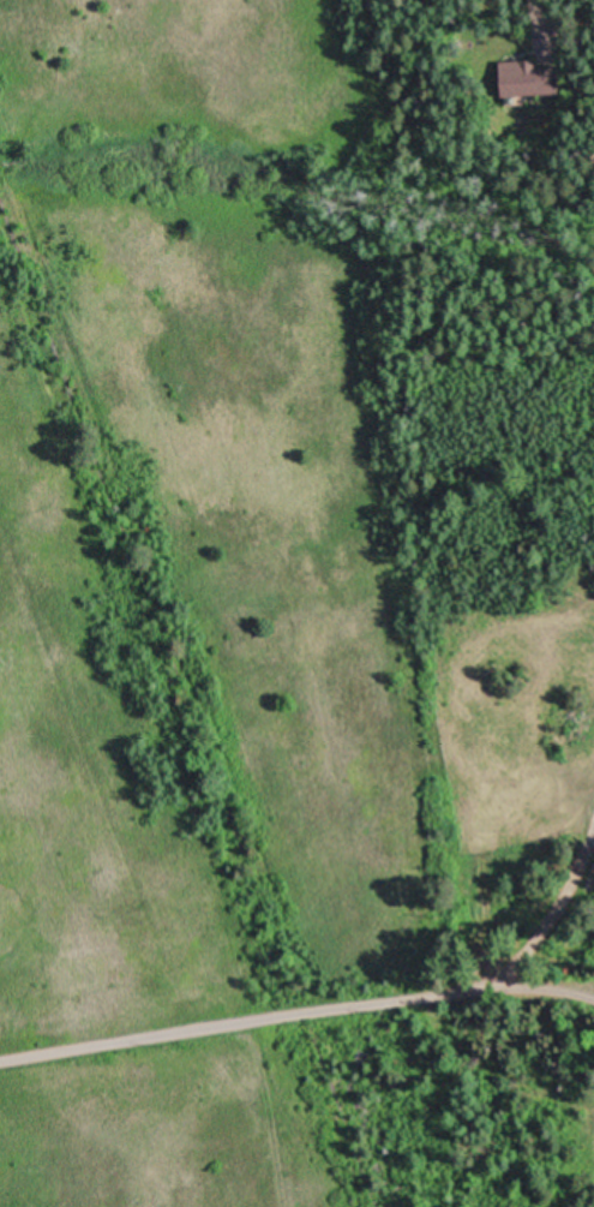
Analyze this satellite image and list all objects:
road: (538, 22)
building: (532, 76)
road: (295, 1011)

